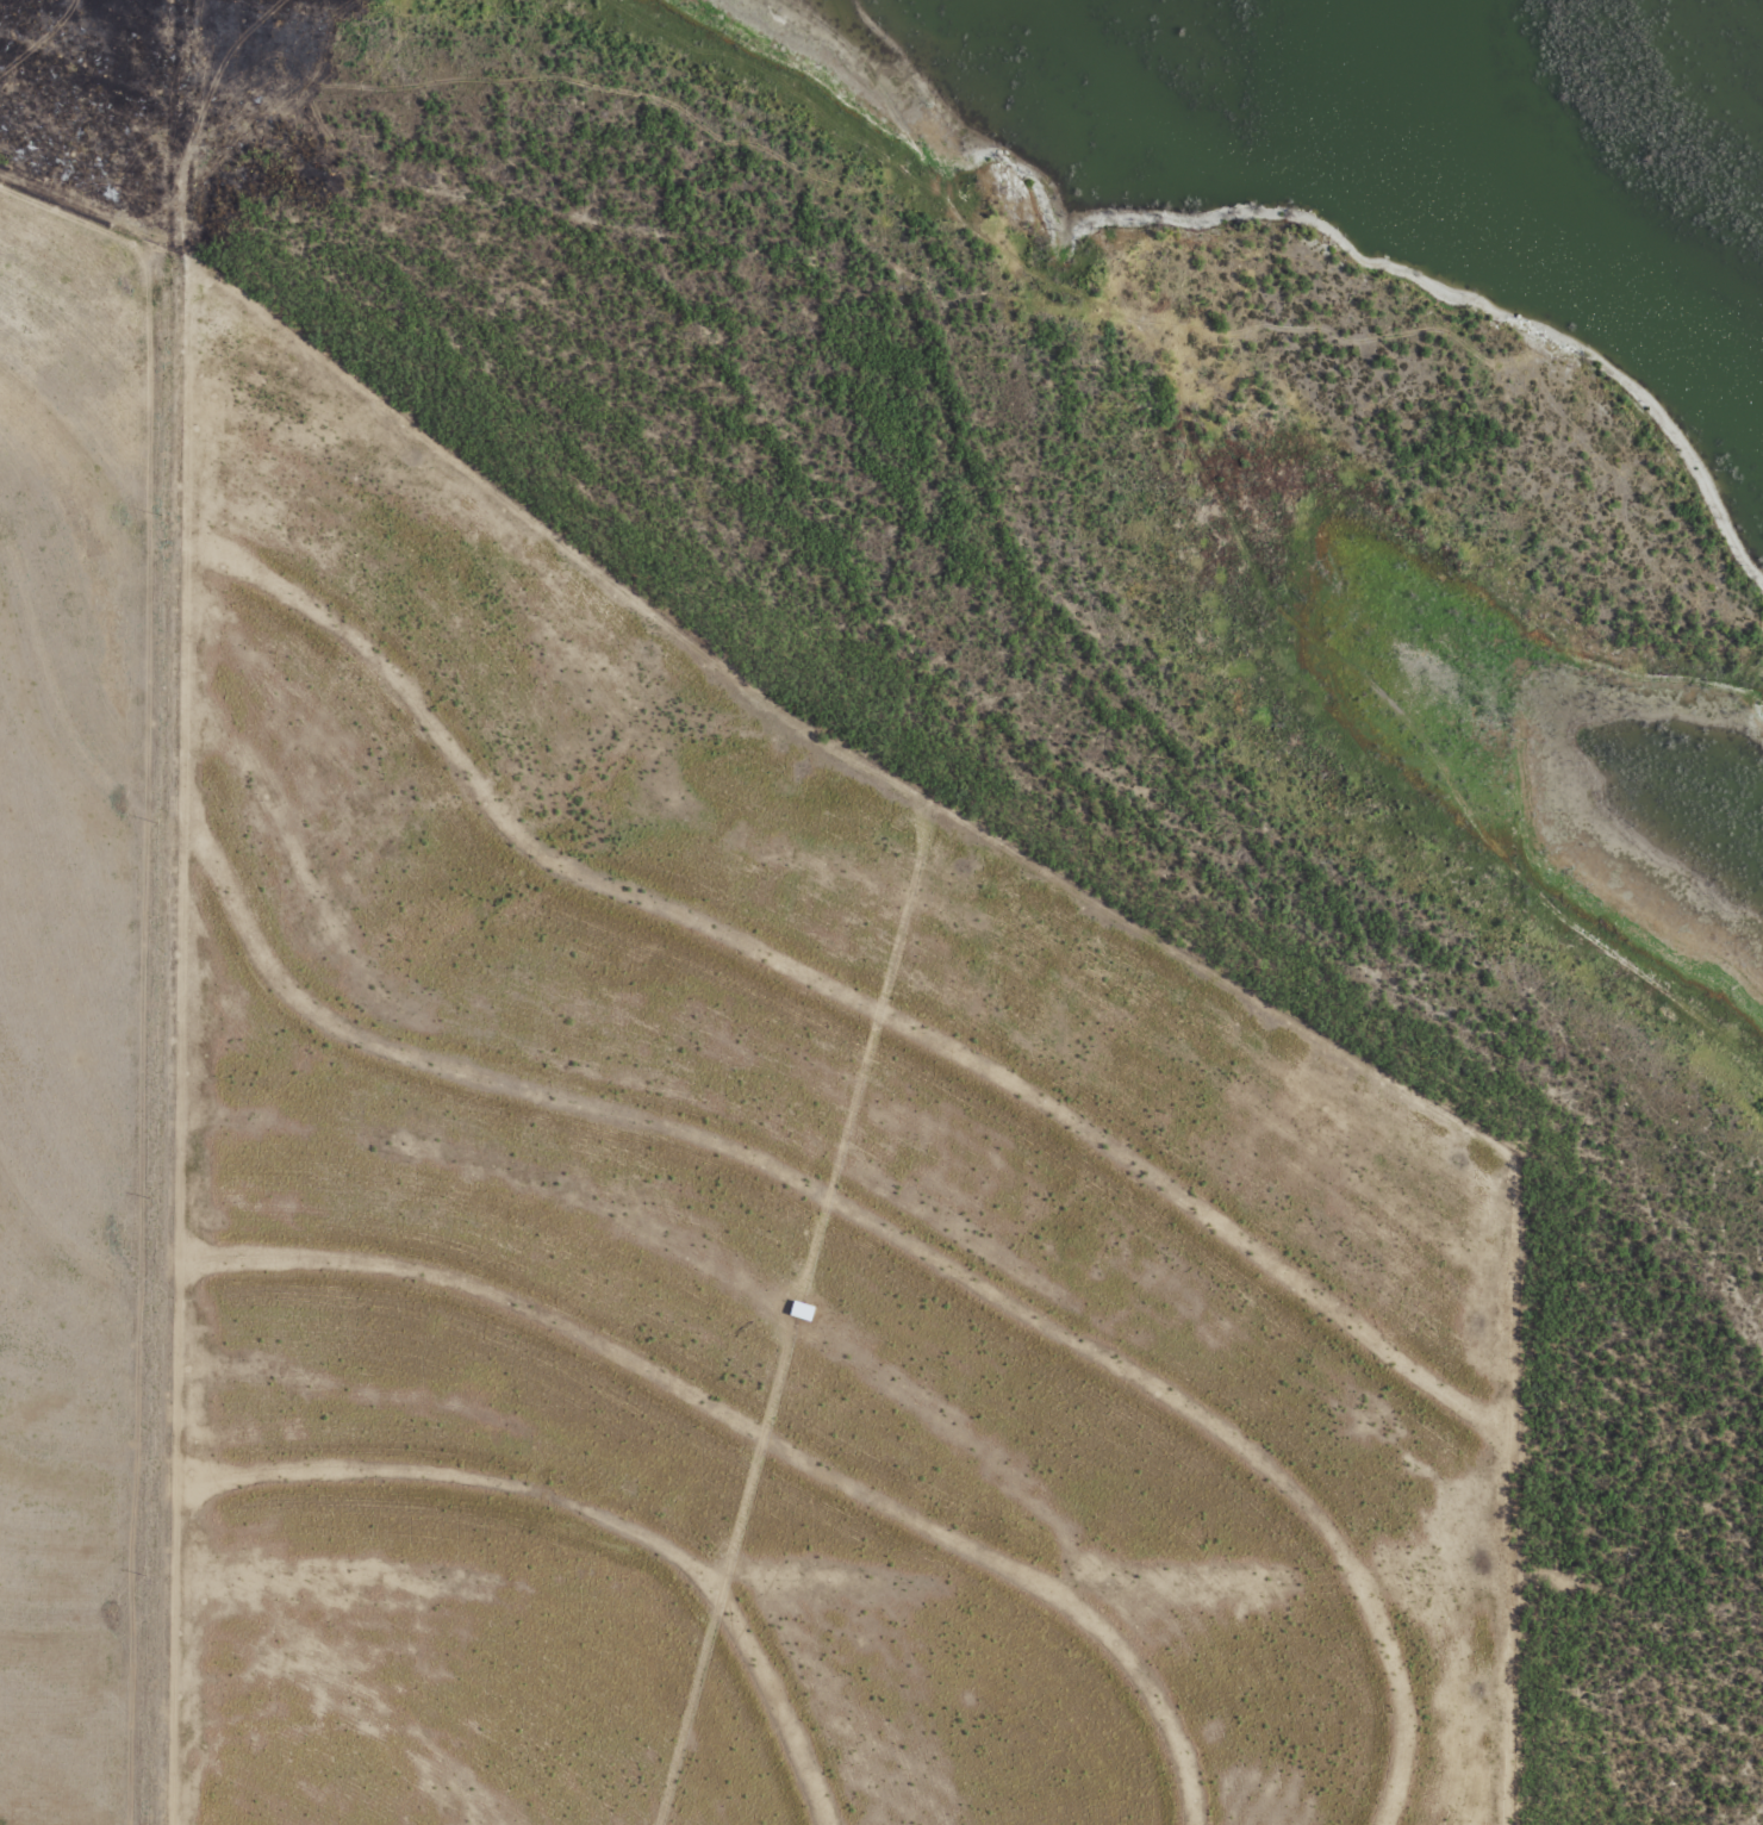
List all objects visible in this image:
river: (1507, 249)
road: (182, 1059)

